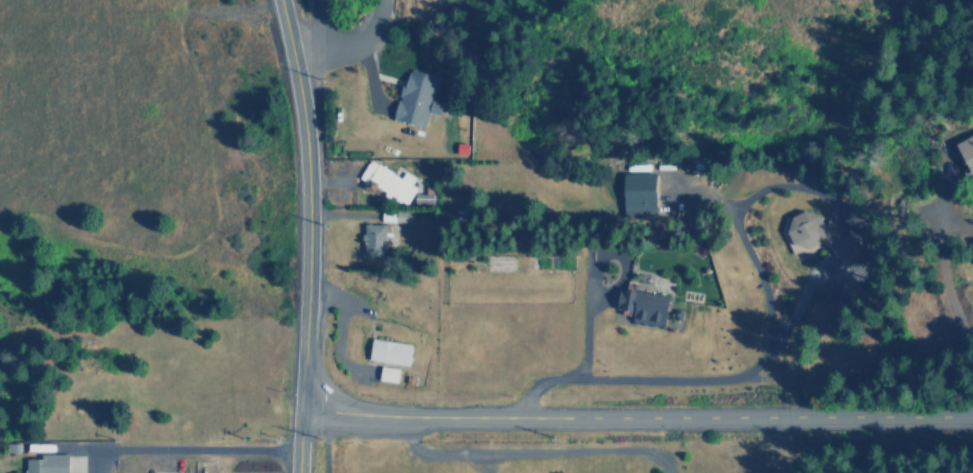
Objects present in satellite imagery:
road: (306, 26)
road: (348, 42)
building: (417, 97)
building: (964, 152)
building: (388, 181)
building: (641, 194)
road: (306, 235)
building: (375, 239)
building: (971, 248)
road: (748, 256)
road: (335, 297)
building: (646, 305)
road: (584, 317)
road: (335, 346)
building: (391, 351)
building: (390, 373)
road: (635, 417)
road: (634, 426)
road: (324, 445)
road: (176, 449)
road: (526, 450)
road: (481, 462)
building: (48, 463)

